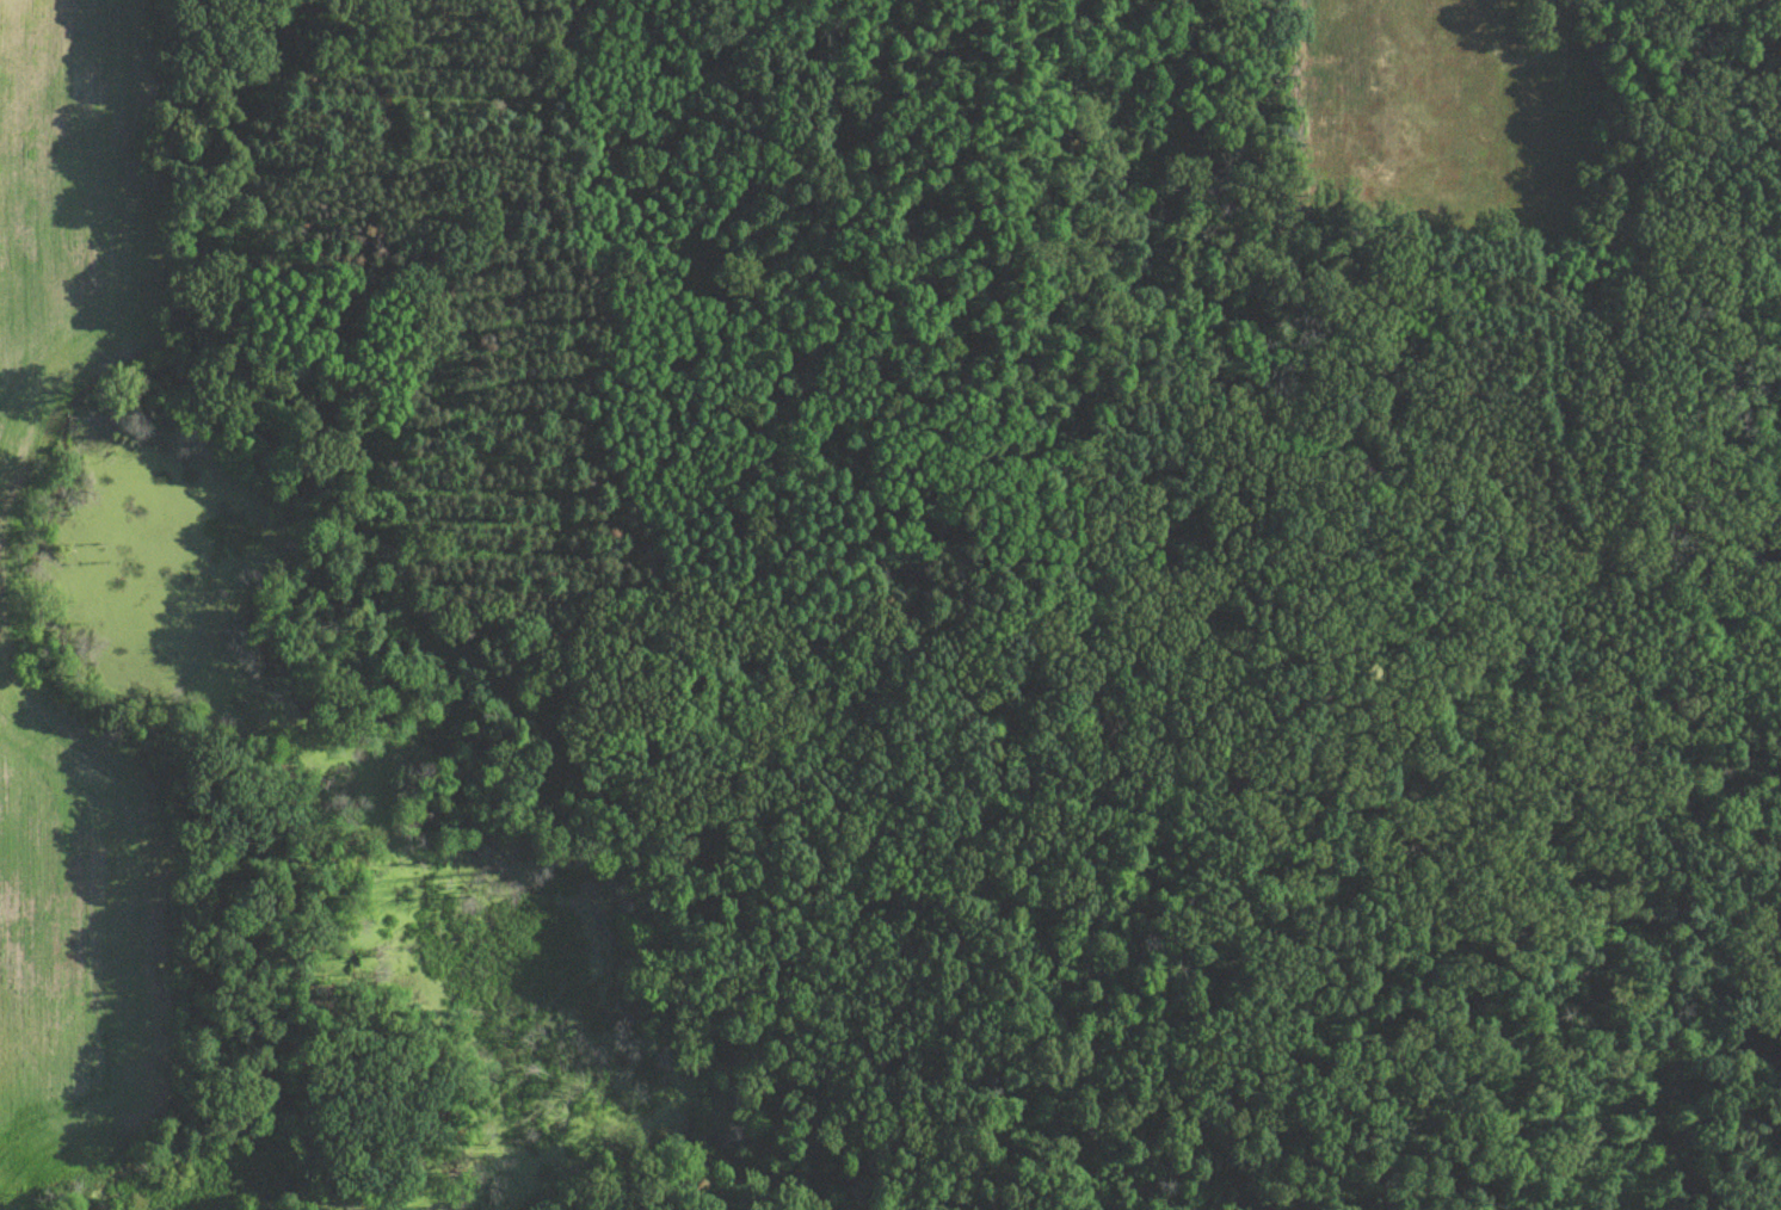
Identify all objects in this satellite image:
crop: (74, 212)
crop: (81, 947)

